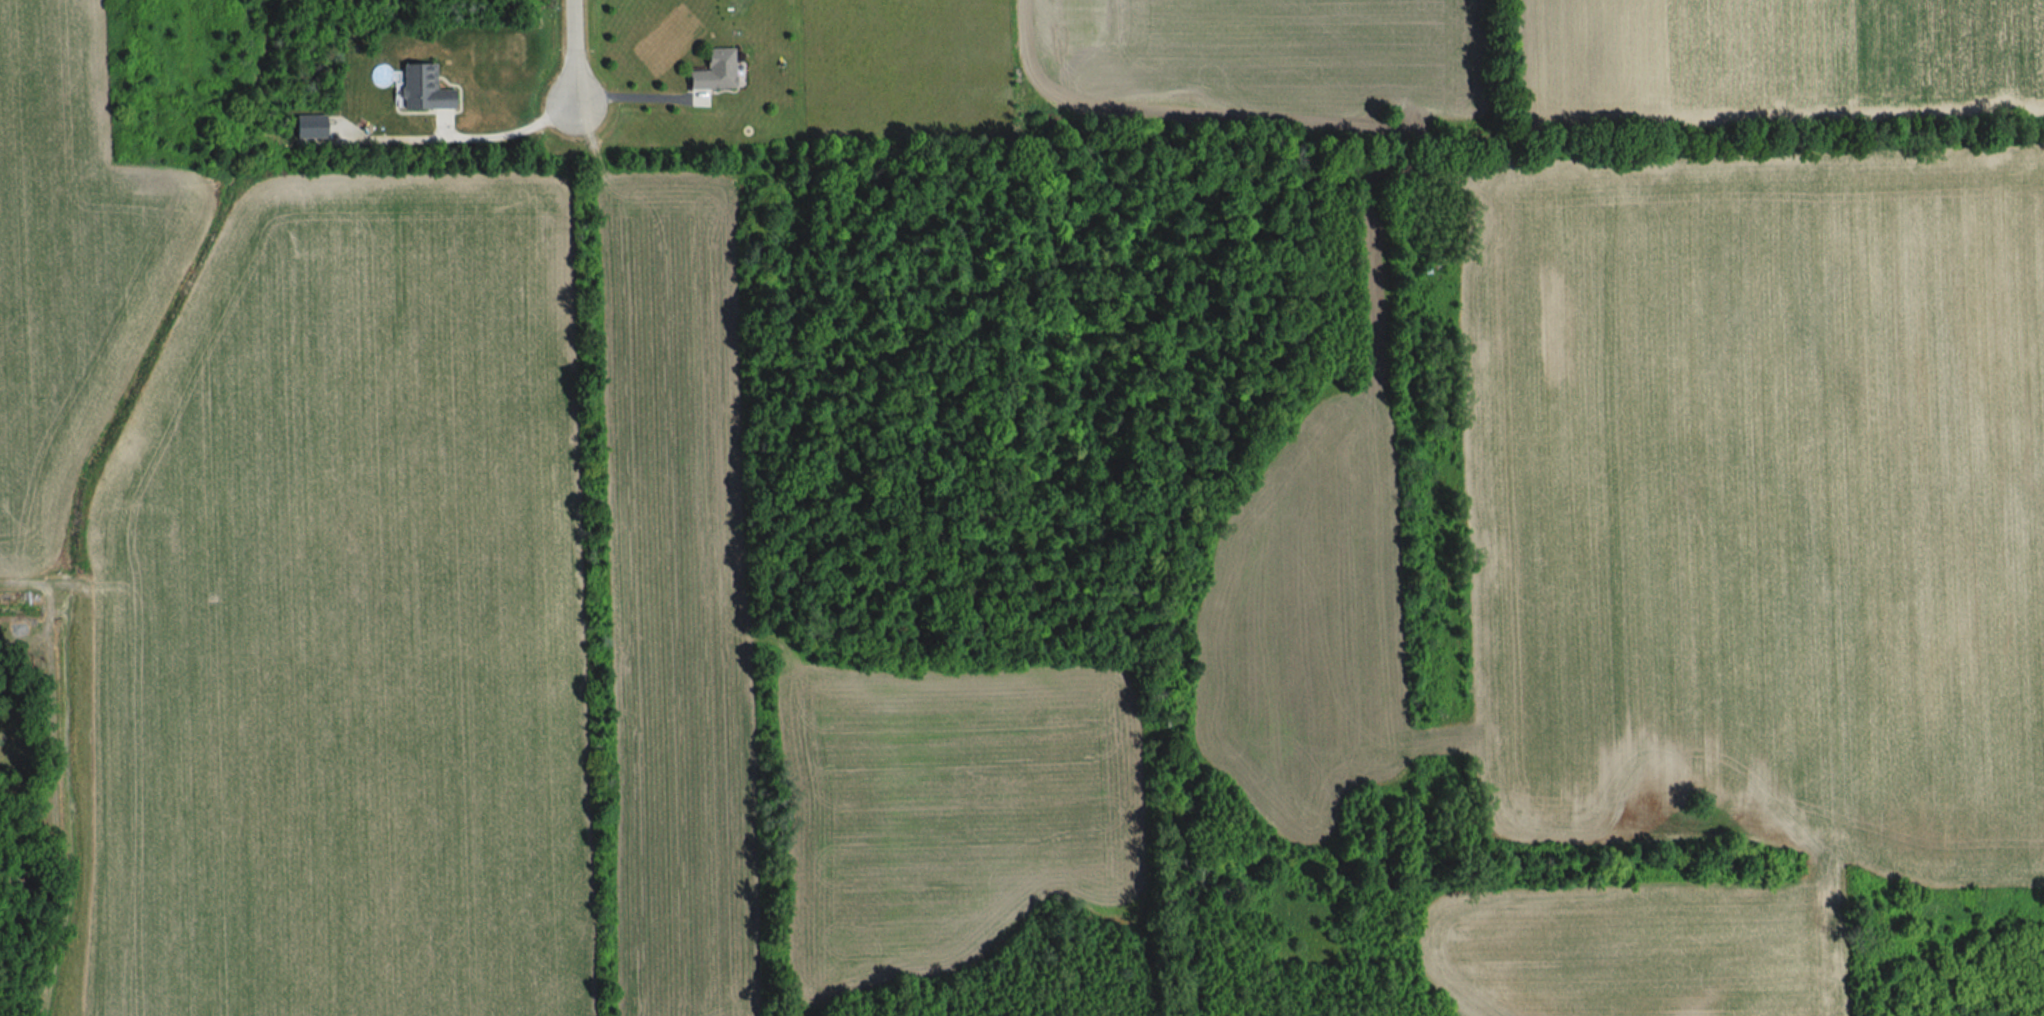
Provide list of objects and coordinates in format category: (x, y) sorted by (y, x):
road: (571, 57)
crop: (1778, 60)
crop: (1258, 61)
building: (711, 71)
building: (426, 90)
road: (632, 98)
road: (512, 135)
crop: (71, 261)
crop: (1689, 557)
crop: (679, 597)
crop: (349, 621)
crop: (949, 811)

